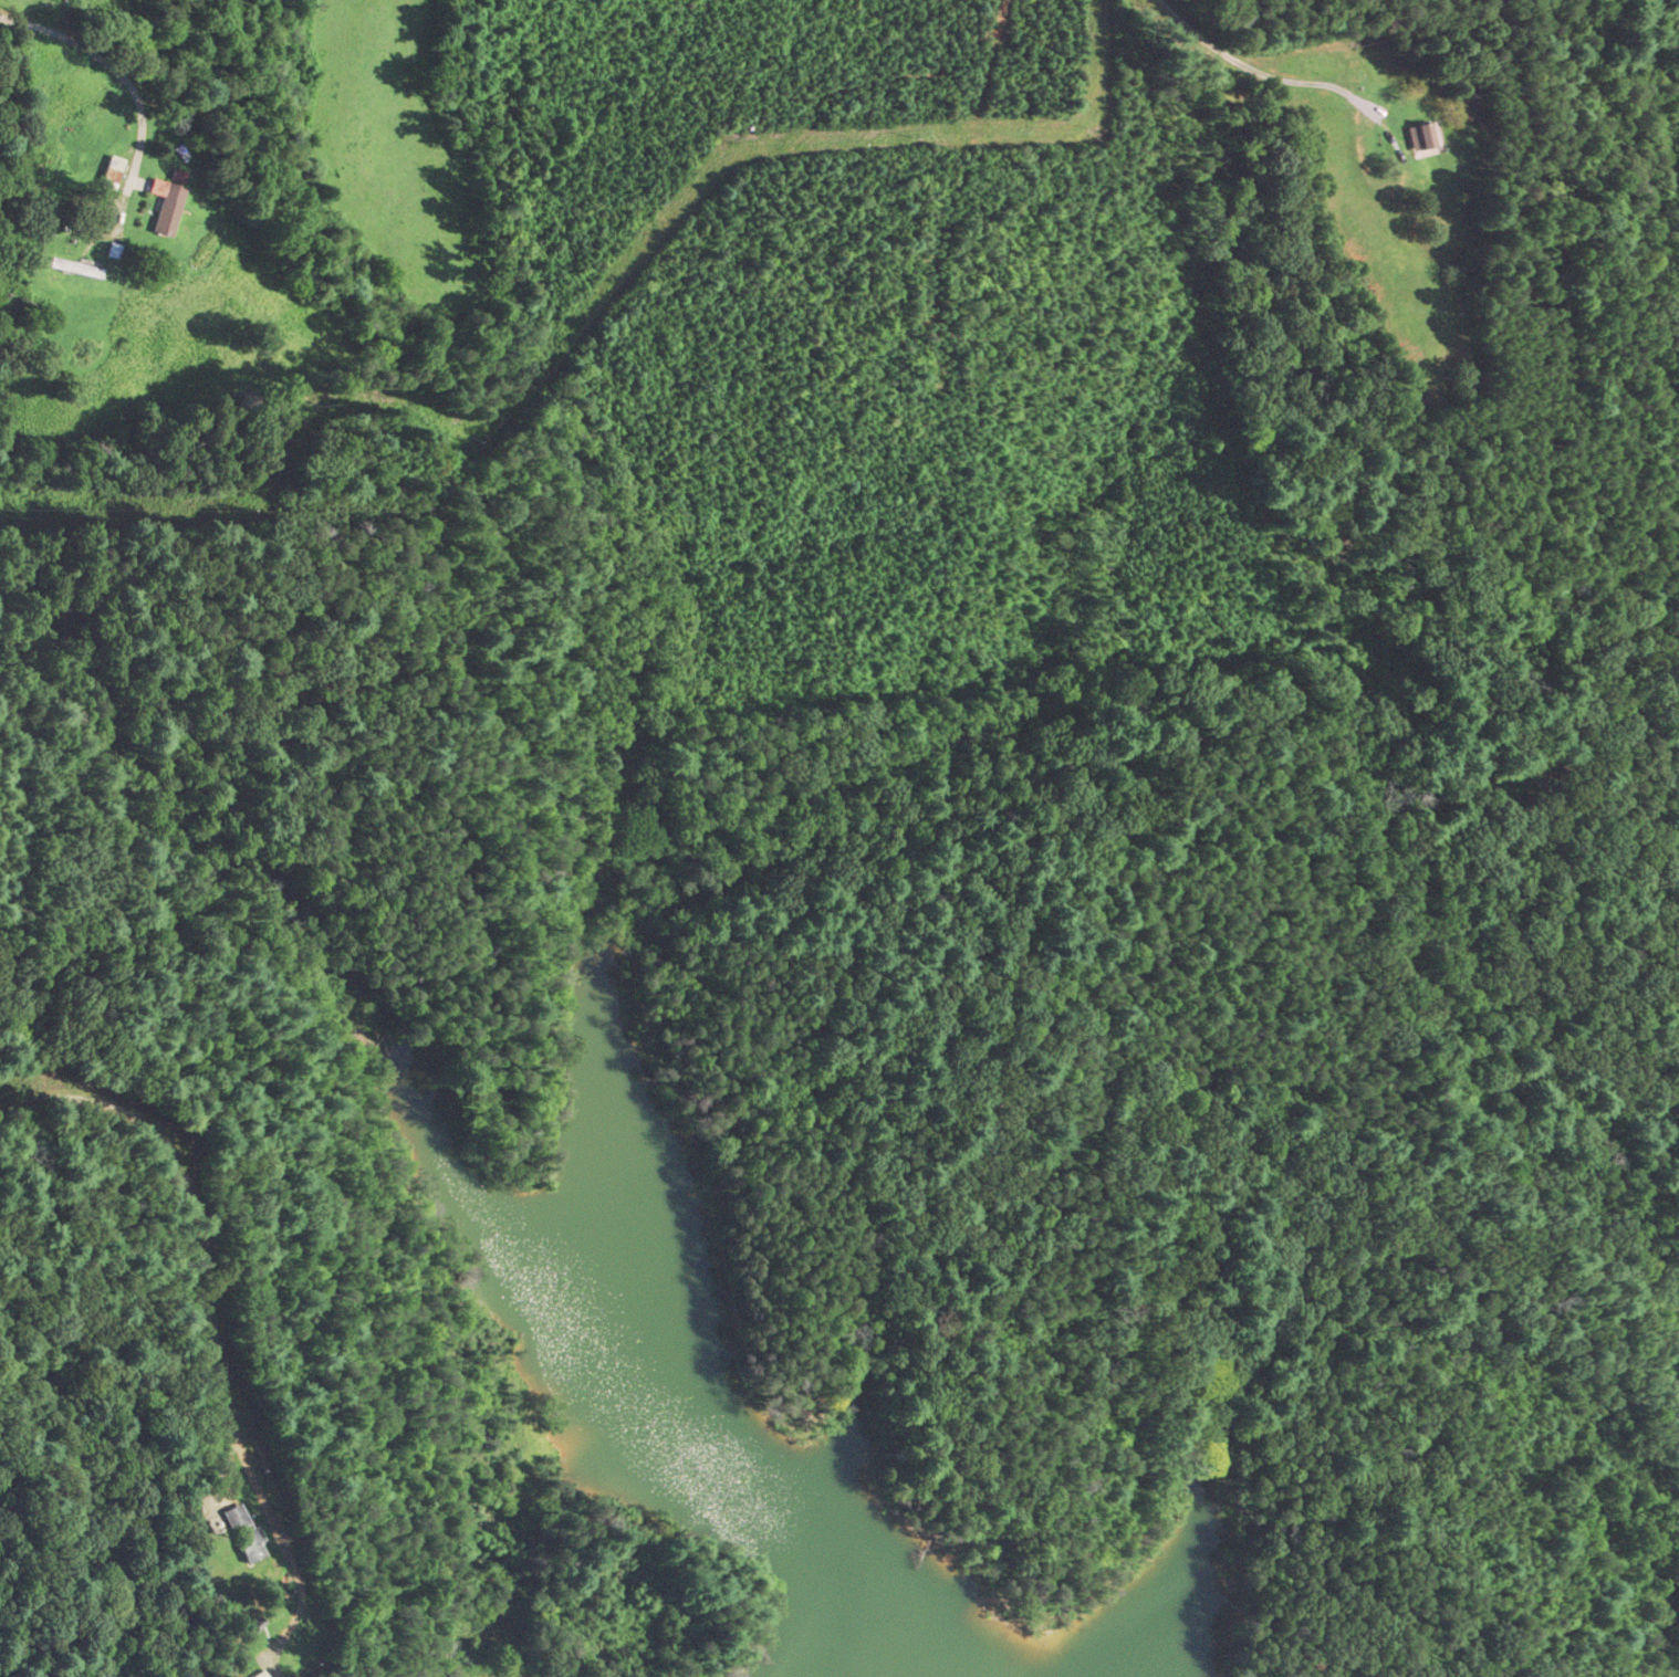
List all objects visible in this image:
road: (1252, 69)
road: (102, 74)
building: (1420, 139)
building: (106, 179)
road: (1395, 184)
building: (167, 202)
road: (210, 1314)
building: (243, 1534)
building: (259, 1675)

